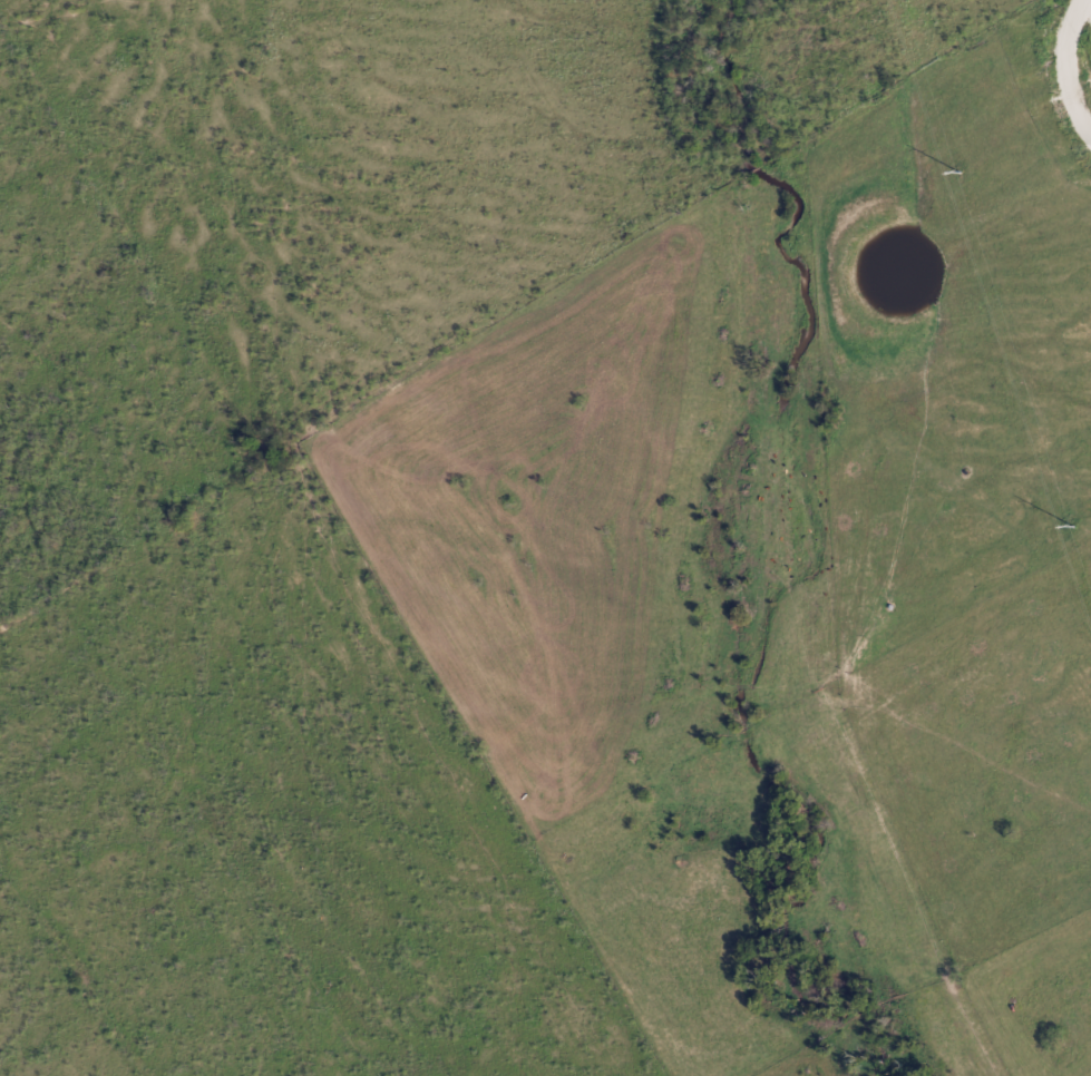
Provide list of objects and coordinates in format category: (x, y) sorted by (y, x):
power tower: (960, 172)
power tower: (1073, 524)

